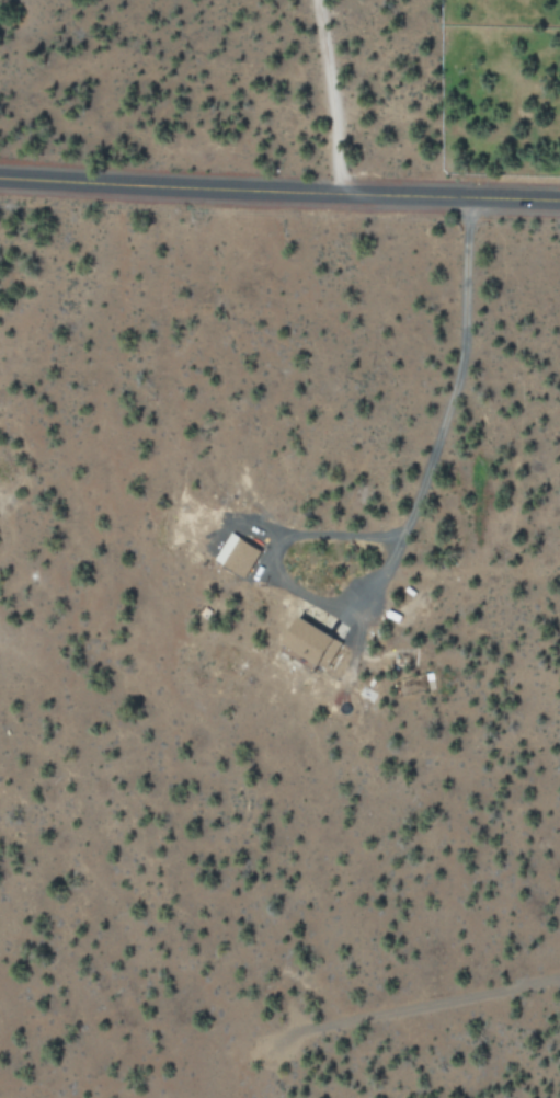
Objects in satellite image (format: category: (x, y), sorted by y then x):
road: (328, 96)
road: (279, 192)
building: (238, 554)
building: (312, 643)

